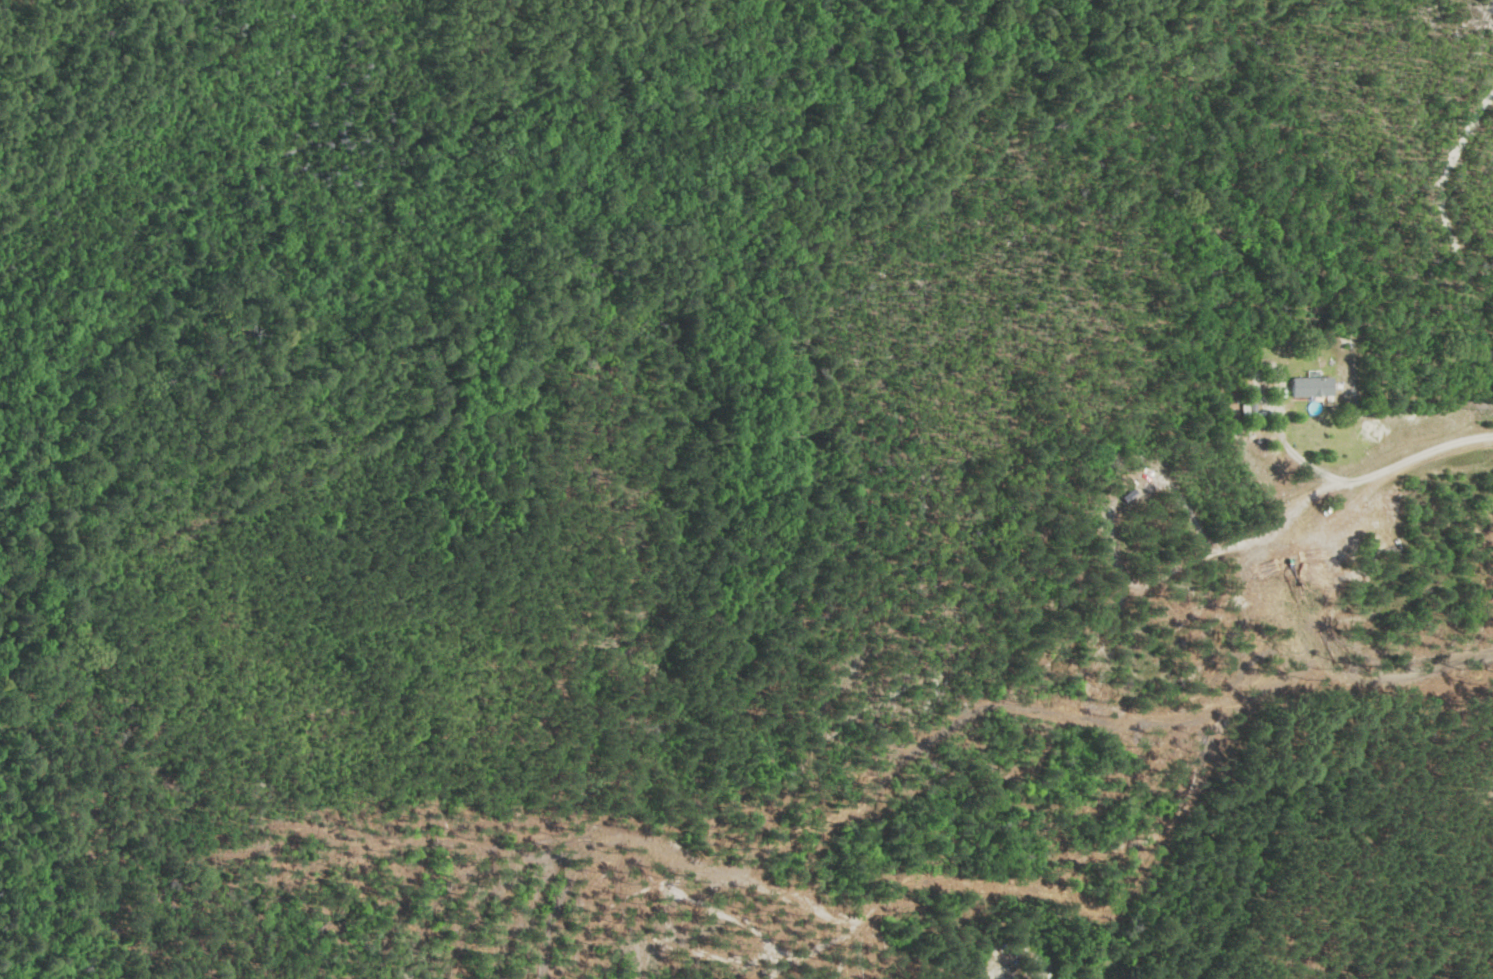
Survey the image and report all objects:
building: (1309, 385)

